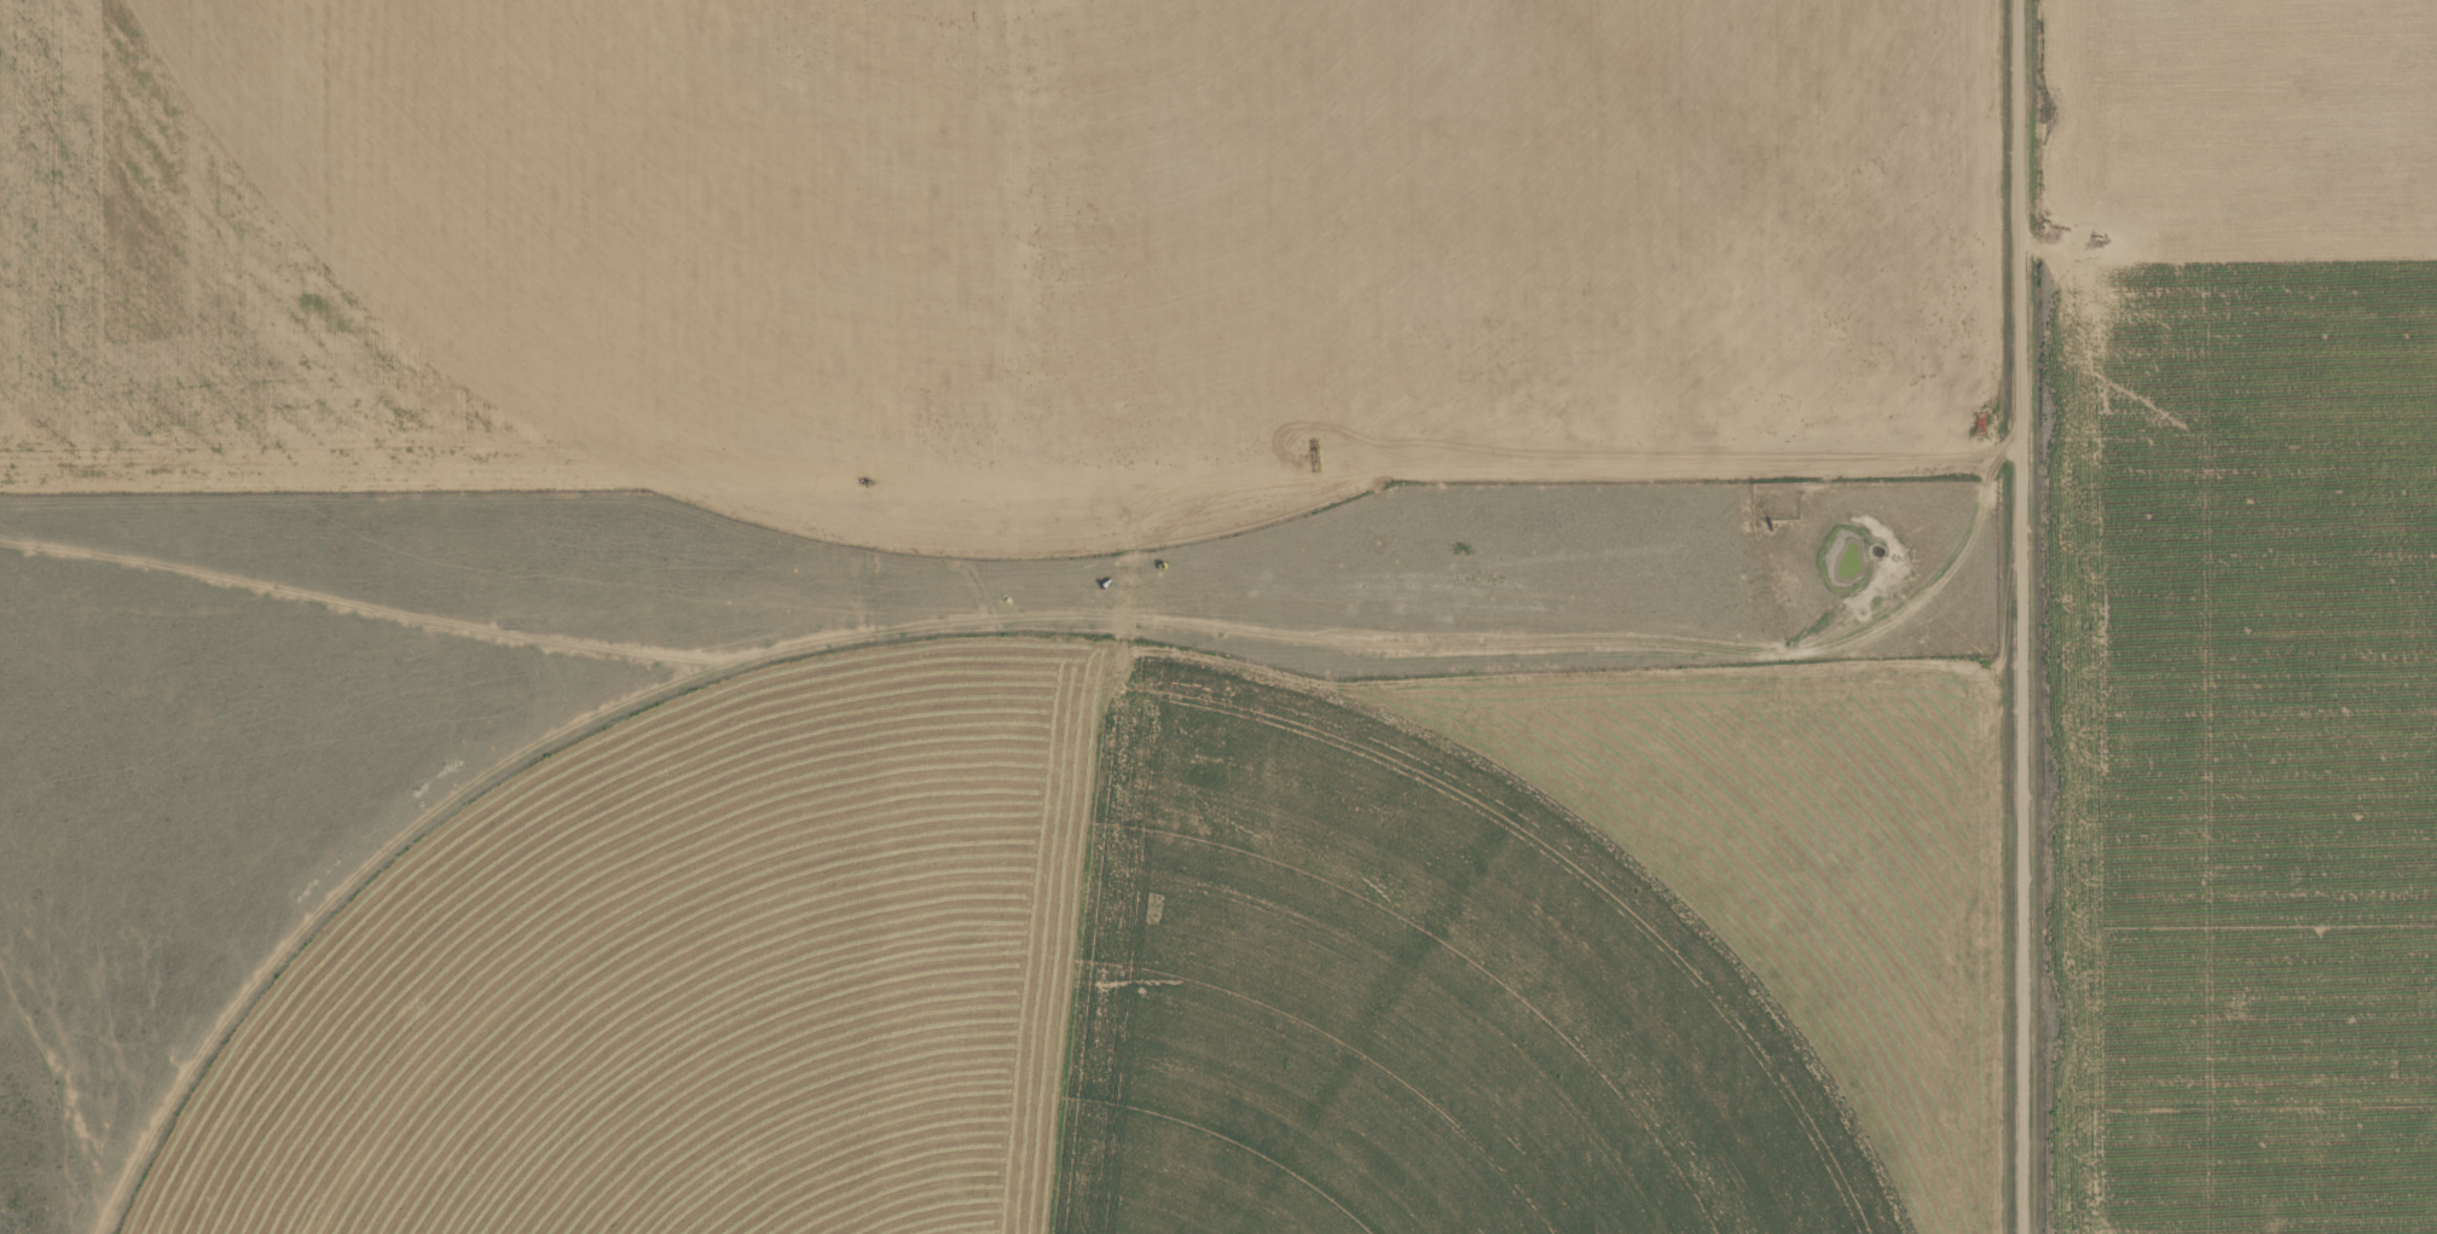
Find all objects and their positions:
road: (2024, 616)

